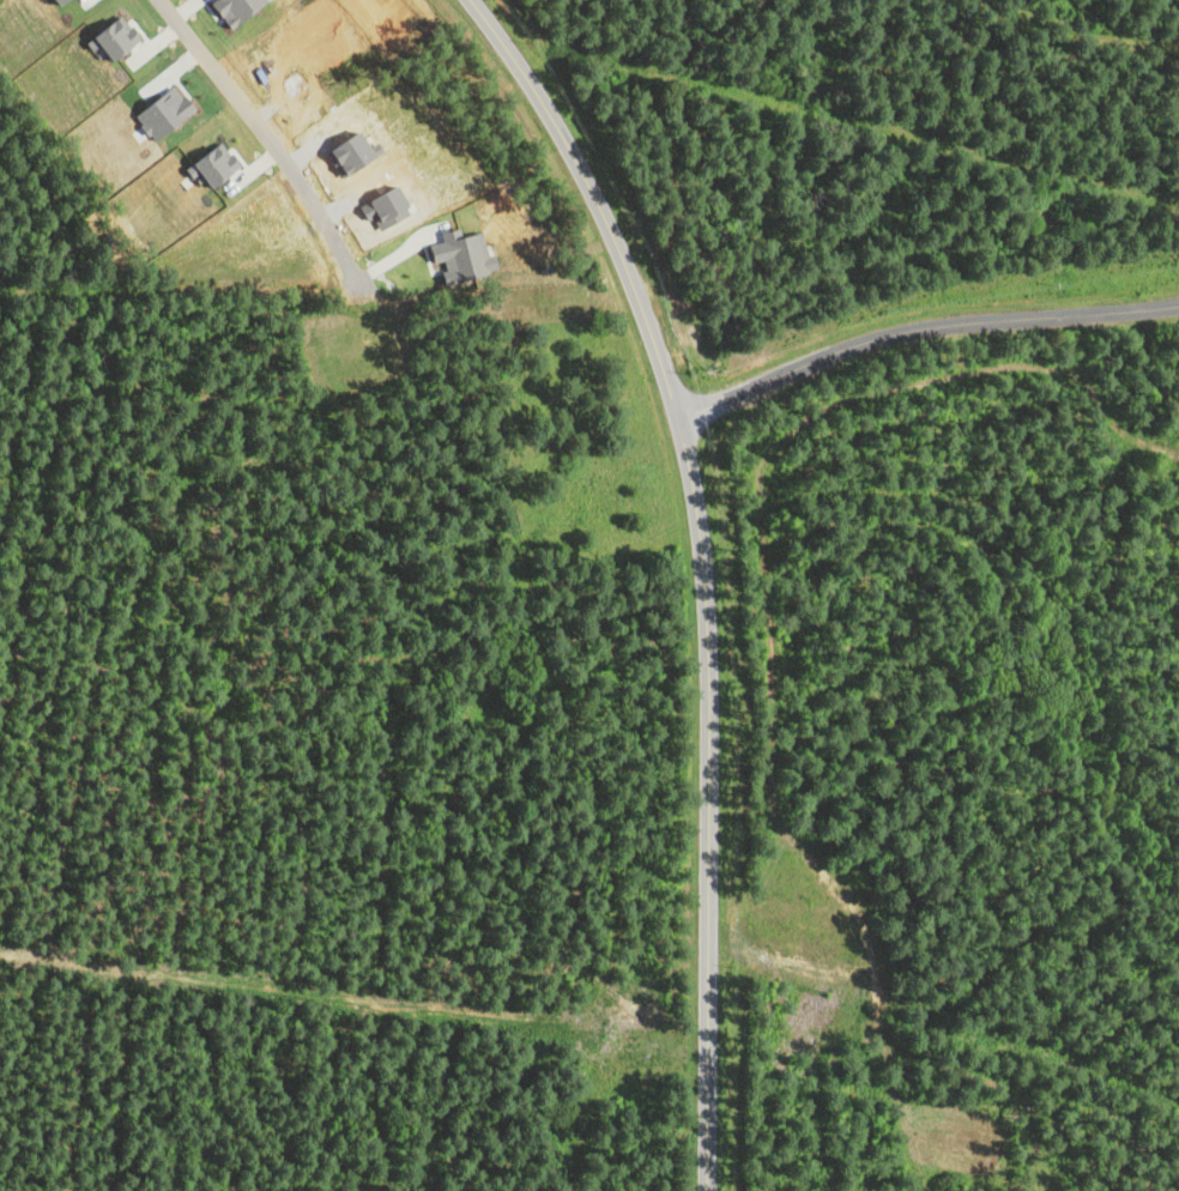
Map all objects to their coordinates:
road: (262, 133)
road: (919, 326)
road: (702, 567)

